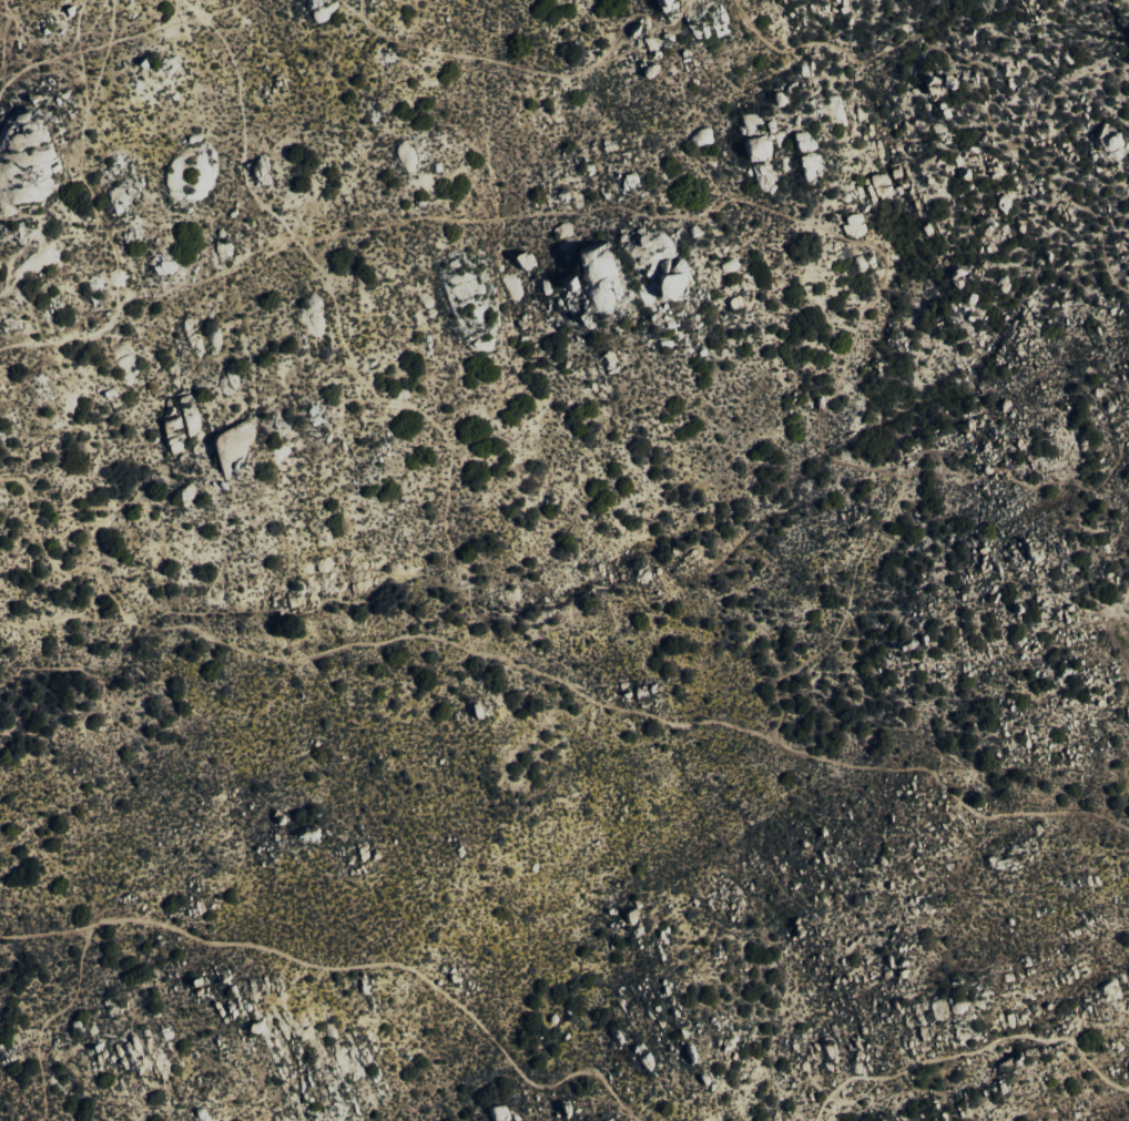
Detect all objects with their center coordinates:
building: (668, 4)
road: (125, 38)
road: (533, 69)
road: (979, 70)
building: (701, 137)
building: (1110, 145)
building: (808, 154)
building: (1004, 203)
building: (853, 225)
road: (31, 240)
building: (522, 259)
building: (596, 278)
building: (568, 283)
building: (664, 284)
road: (814, 648)
building: (498, 1112)
building: (201, 1115)

